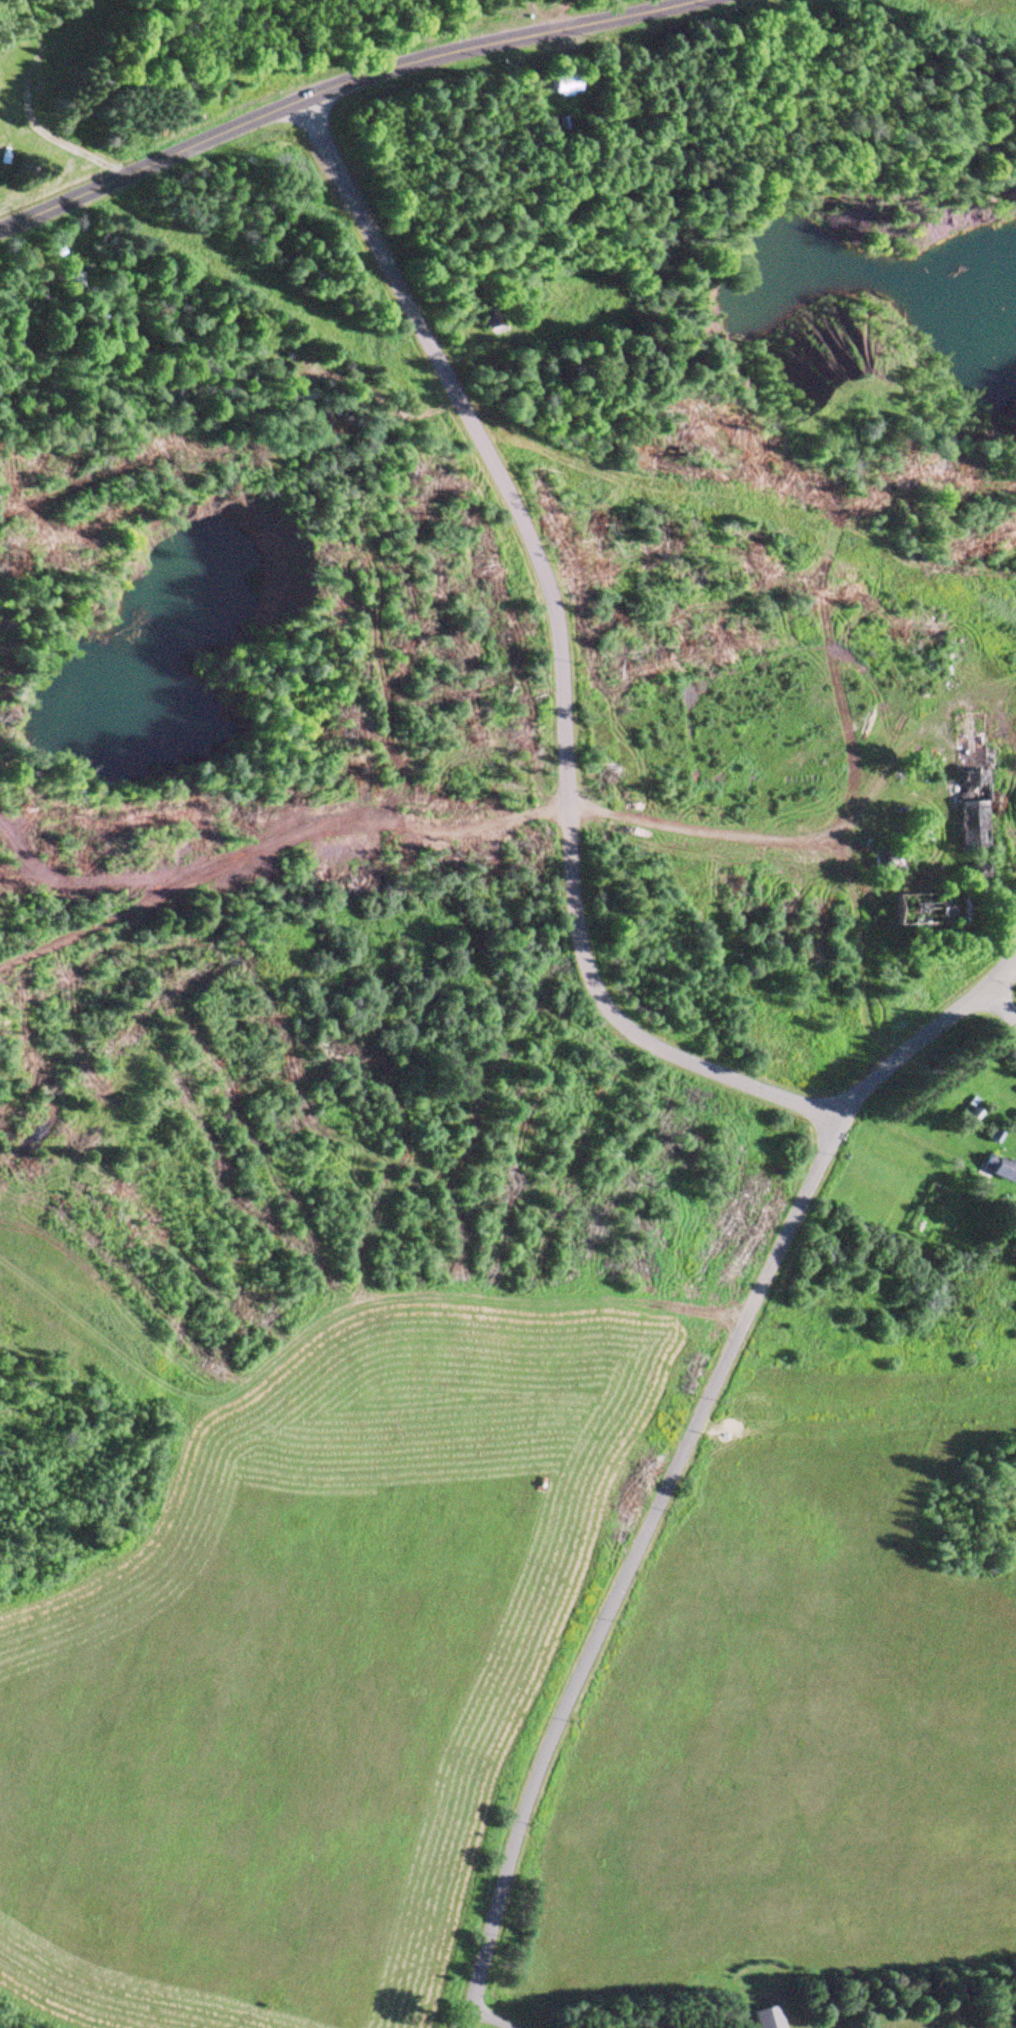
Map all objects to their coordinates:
building: (549, 87)
road: (324, 90)
building: (488, 319)
road: (558, 657)
building: (970, 780)
building: (927, 914)
road: (1004, 977)
road: (1004, 1002)
building: (997, 1169)
road: (685, 1448)
building: (766, 2018)

